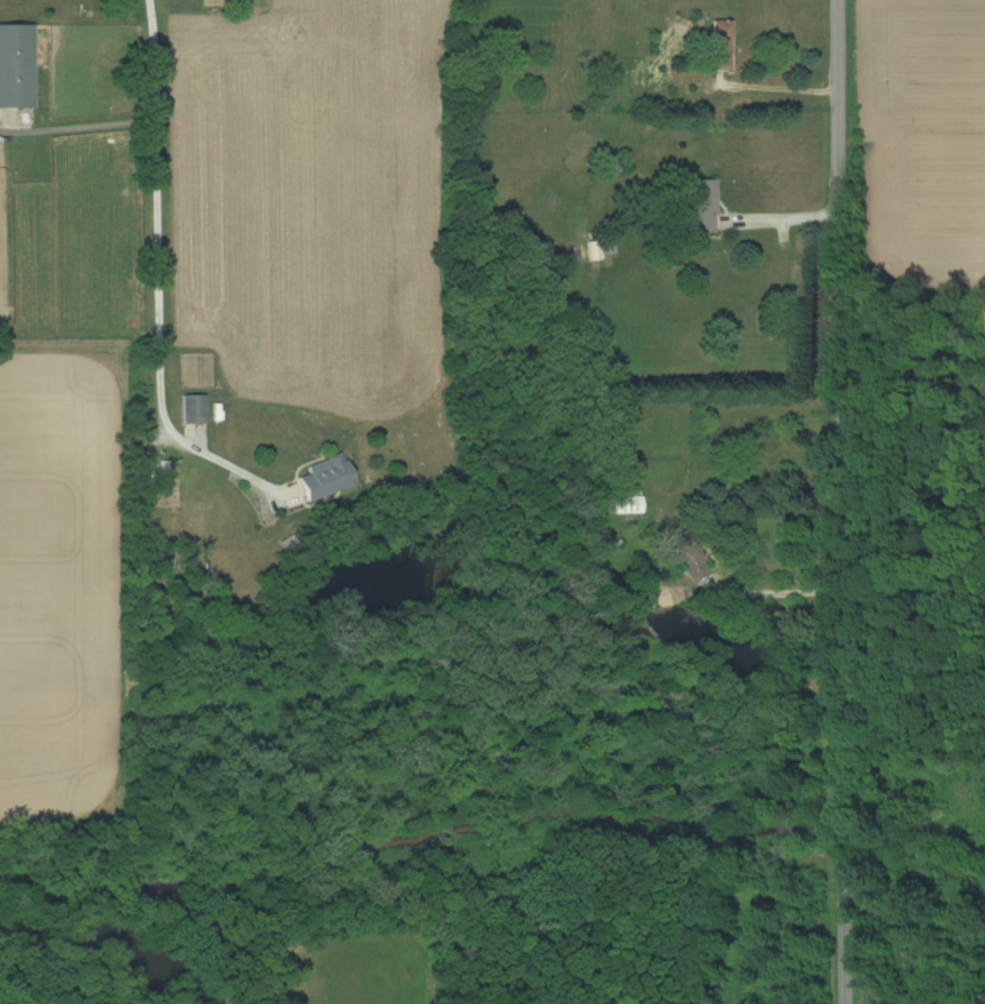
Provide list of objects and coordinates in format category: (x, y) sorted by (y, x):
building: (721, 44)
road: (154, 59)
building: (15, 65)
road: (773, 93)
road: (78, 127)
building: (704, 205)
road: (786, 223)
road: (159, 329)
building: (192, 409)
building: (325, 476)
road: (841, 502)
building: (627, 504)
building: (686, 555)
road: (773, 598)
river: (82, 971)

